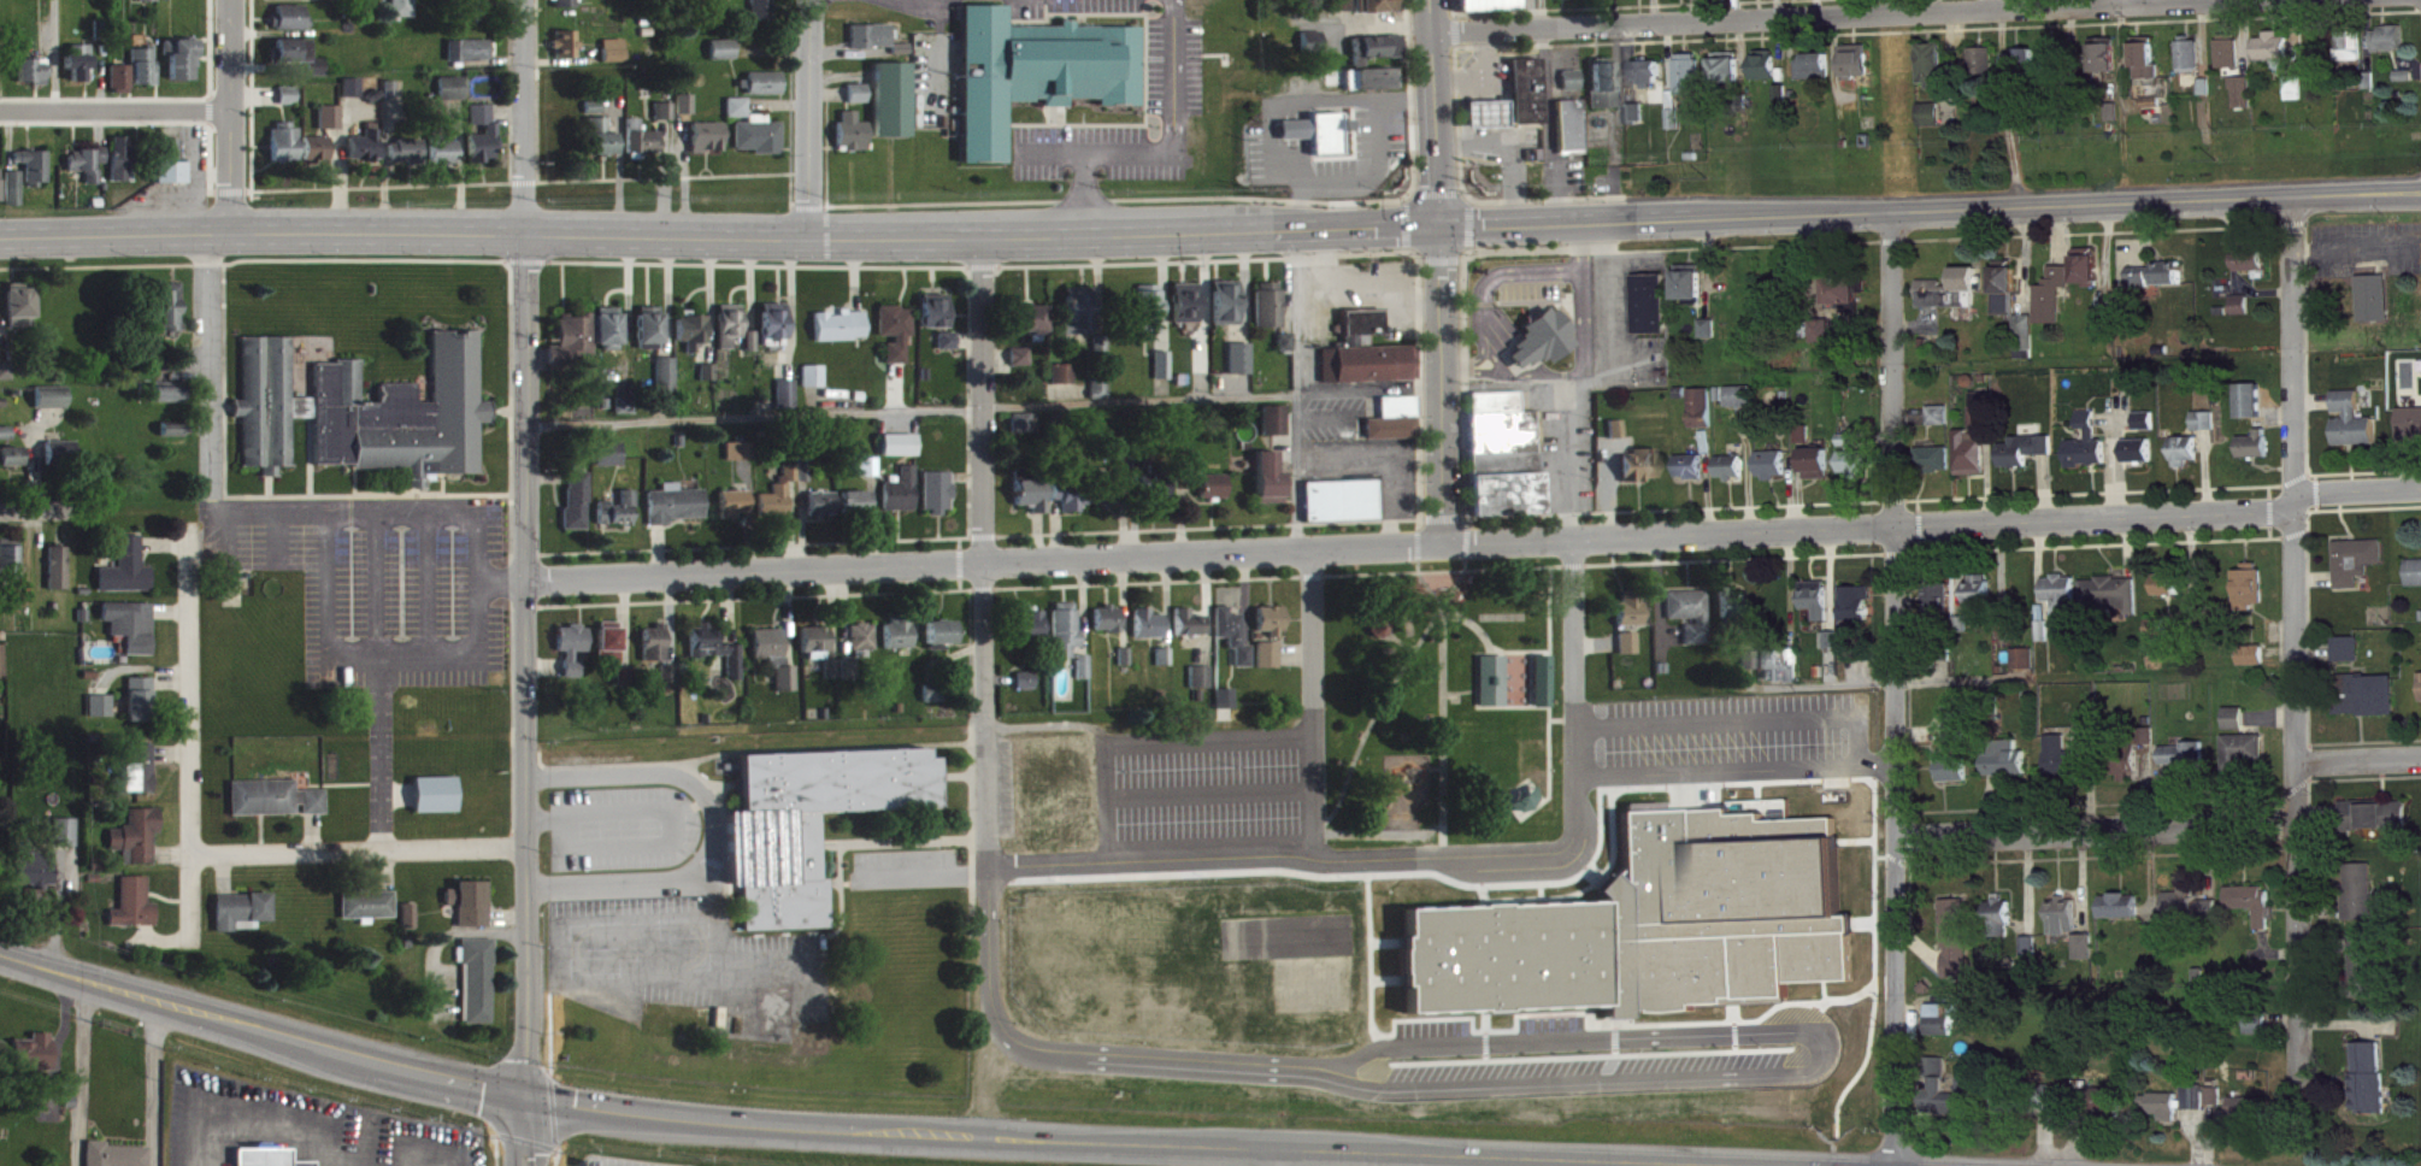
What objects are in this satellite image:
building: (756, 0)
building: (1720, 0)
building: (1754, 0)
building: (172, 1)
building: (1679, 1)
building: (1601, 2)
building: (1639, 2)
building: (293, 4)
building: (1561, 4)
road: (2114, 4)
building: (148, 5)
building: (341, 5)
parking lot: (1066, 6)
road: (1985, 6)
building: (567, 8)
building: (1343, 11)
building: (1378, 11)
building: (1492, 11)
building: (403, 13)
building: (476, 14)
building: (764, 17)
road: (1862, 17)
building: (290, 28)
building: (873, 46)
road: (207, 47)
building: (2392, 48)
road: (53, 54)
building: (567, 54)
building: (2276, 57)
building: (2354, 57)
building: (1378, 58)
building: (471, 60)
building: (615, 60)
building: (725, 60)
building: (2233, 61)
building: (300, 64)
parking lot: (1173, 64)
building: (2193, 66)
building: (182, 67)
building: (2107, 67)
building: (2149, 67)
building: (1035, 69)
building: (1859, 71)
building: (1986, 71)
building: (79, 72)
building: (2026, 72)
building: (2057, 72)
building: (1934, 75)
building: (145, 77)
parking lot: (933, 77)
building: (1730, 77)
building: (1768, 77)
building: (1818, 77)
building: (34, 81)
building: (1651, 82)
building: (1691, 83)
building: (1338, 87)
building: (122, 89)
building: (1377, 89)
building: (1574, 90)
building: (766, 93)
building: (353, 98)
building: (453, 98)
building: (1608, 98)
building: (1530, 101)
building: (2245, 102)
building: (860, 104)
building: (289, 106)
road: (208, 108)
road: (113, 110)
building: (895, 110)
road: (1437, 112)
road: (524, 114)
building: (688, 114)
building: (740, 117)
road: (807, 117)
road: (228, 118)
building: (1675, 119)
building: (666, 120)
building: (1637, 123)
building: (1489, 124)
building: (1933, 124)
building: (331, 128)
building: (1573, 135)
building: (491, 140)
building: (855, 142)
building: (1320, 142)
road: (2013, 143)
building: (761, 145)
building: (709, 147)
building: (603, 148)
building: (643, 148)
building: (285, 153)
road: (1165, 153)
building: (366, 154)
road: (208, 159)
building: (317, 159)
building: (407, 161)
building: (444, 161)
building: (123, 169)
building: (172, 171)
building: (88, 173)
building: (35, 176)
road: (559, 179)
road: (522, 181)
road: (376, 185)
road: (228, 190)
building: (1, 194)
building: (14, 198)
road: (2356, 200)
road: (1865, 219)
traffic signals: (1439, 225)
road: (719, 231)
building: (2258, 271)
building: (2091, 277)
building: (2161, 285)
building: (1692, 293)
building: (2009, 298)
building: (1955, 300)
building: (1845, 304)
building: (2379, 305)
building: (2056, 307)
building: (1188, 313)
building: (1227, 313)
building: (1654, 313)
building: (22, 316)
building: (1271, 316)
building: (2244, 316)
building: (170, 317)
building: (1080, 320)
building: (1151, 320)
building: (937, 322)
building: (1033, 329)
building: (776, 331)
building: (652, 335)
building: (731, 335)
building: (842, 336)
building: (1363, 336)
building: (609, 337)
building: (1712, 338)
building: (694, 340)
building: (1826, 340)
building: (897, 341)
building: (2028, 347)
building: (573, 349)
building: (1544, 349)
road: (2293, 349)
building: (950, 351)
building: (753, 352)
building: (1286, 352)
building: (1023, 366)
building: (1242, 369)
road: (1889, 372)
building: (1372, 373)
building: (1164, 376)
building: (6, 381)
building: (709, 382)
building: (667, 384)
building: (1064, 384)
road: (1439, 384)
building: (815, 385)
road: (1295, 388)
road: (1045, 404)
building: (171, 405)
building: (789, 405)
building: (1743, 407)
building: (53, 410)
building: (2252, 411)
building: (1704, 418)
building: (366, 422)
building: (1934, 426)
building: (1396, 429)
building: (1276, 430)
building: (2148, 431)
building: (2208, 431)
building: (2355, 431)
building: (1026, 434)
building: (2411, 434)
building: (175, 440)
building: (1619, 440)
building: (6, 443)
building: (1807, 444)
building: (1974, 454)
building: (2091, 454)
building: (901, 455)
building: (2258, 455)
building: (2027, 460)
building: (2142, 460)
building: (2189, 460)
building: (742, 461)
building: (63, 463)
building: (611, 464)
building: (12, 466)
building: (1507, 466)
building: (1938, 469)
building: (1857, 472)
building: (1820, 473)
building: (1775, 475)
building: (1642, 476)
building: (871, 477)
building: (1693, 477)
building: (1734, 477)
building: (1126, 482)
building: (1271, 489)
road: (2358, 493)
building: (1203, 495)
building: (1155, 497)
building: (903, 501)
building: (941, 502)
building: (781, 505)
building: (1033, 505)
building: (1072, 505)
road: (11, 511)
building: (578, 511)
building: (858, 511)
building: (1342, 511)
road: (2095, 512)
building: (736, 513)
building: (824, 513)
building: (677, 514)
building: (619, 520)
road: (982, 547)
road: (1209, 552)
building: (11, 571)
building: (2360, 571)
building: (59, 578)
building: (128, 578)
road: (188, 582)
building: (2415, 583)
building: (2172, 594)
building: (2252, 596)
building: (1981, 600)
building: (2061, 603)
building: (2111, 603)
building: (1819, 608)
building: (1940, 609)
building: (1859, 613)
building: (1737, 616)
building: (1632, 622)
building: (1692, 624)
building: (1109, 629)
building: (1194, 631)
building: (1272, 631)
building: (132, 635)
building: (1033, 635)
building: (1149, 635)
building: (2160, 637)
building: (1066, 640)
building: (2010, 640)
building: (901, 644)
building: (942, 644)
building: (1235, 646)
building: (865, 649)
building: (1834, 650)
building: (612, 653)
building: (1630, 653)
building: (656, 654)
building: (818, 656)
building: (573, 658)
building: (717, 659)
building: (2350, 659)
road: (524, 665)
building: (1270, 665)
building: (2255, 665)
building: (777, 667)
building: (1165, 667)
building: (2026, 669)
building: (1750, 670)
building: (0, 672)
building: (1084, 677)
building: (850, 678)
building: (833, 679)
building: (670, 684)
building: (628, 685)
building: (1201, 688)
building: (1027, 690)
building: (1494, 691)
building: (1544, 691)
road: (1383, 699)
park: (1443, 699)
building: (935, 703)
road: (1312, 703)
road: (1574, 706)
building: (2369, 706)
building: (1226, 708)
building: (141, 709)
building: (101, 715)
building: (2238, 729)
road: (1443, 730)
building: (1960, 735)
building: (2091, 750)
road: (2360, 758)
building: (2248, 760)
building: (2189, 765)
building: (2063, 766)
building: (2010, 770)
building: (2132, 771)
parking lot: (1727, 773)
building: (139, 778)
building: (1957, 779)
parking lot: (1002, 785)
parking lot: (1206, 794)
building: (437, 805)
building: (1533, 806)
building: (275, 808)
road: (2297, 817)
building: (803, 819)
building: (2379, 825)
road: (707, 828)
parking lot: (626, 829)
road: (2097, 831)
building: (65, 842)
building: (137, 846)
road: (1897, 846)
road: (355, 848)
road: (1261, 859)
building: (37, 878)
road: (1759, 899)
building: (2362, 902)
building: (472, 913)
building: (2256, 913)
building: (136, 914)
building: (370, 914)
building: (2184, 914)
building: (2123, 917)
building: (245, 921)
building: (411, 926)
building: (2066, 926)
building: (2003, 927)
building: (1958, 946)
building: (2086, 958)
building: (1508, 967)
building: (2370, 976)
building: (1313, 987)
building: (478, 990)
building: (1666, 993)
road: (984, 1000)
building: (1945, 1029)
building: (2258, 1036)
building: (34, 1062)
road: (79, 1073)
building: (1943, 1076)
road: (148, 1084)
building: (2372, 1088)
traffic signals: (518, 1101)
building: (2219, 1106)
building: (2197, 1107)
building: (1956, 1109)
building: (2110, 1113)
building: (2052, 1117)
building: (2163, 1117)
building: (2250, 1119)
road: (518, 1133)
road: (821, 1135)
road: (1260, 1159)
building: (116, 1160)
building: (266, 1162)

